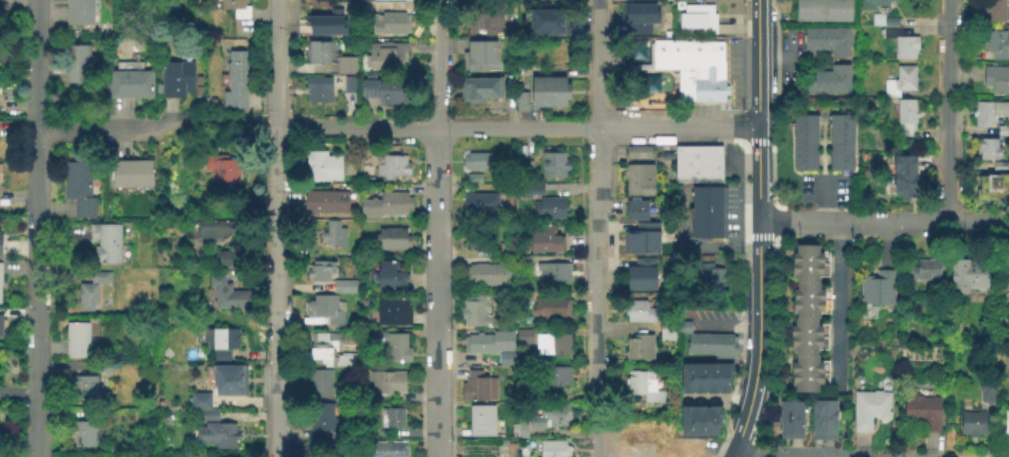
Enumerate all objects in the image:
building: (689, 0)
building: (365, 1)
building: (550, 1)
building: (875, 4)
building: (235, 9)
building: (809, 11)
building: (837, 11)
building: (994, 11)
building: (78, 13)
building: (638, 18)
building: (698, 20)
building: (883, 22)
building: (549, 23)
building: (390, 24)
building: (327, 25)
building: (484, 25)
building: (828, 42)
building: (902, 44)
building: (996, 44)
building: (636, 48)
building: (318, 54)
building: (386, 57)
building: (480, 58)
road: (777, 60)
road: (756, 63)
building: (76, 64)
road: (596, 64)
building: (345, 66)
building: (693, 67)
building: (996, 80)
building: (179, 81)
building: (828, 82)
building: (900, 82)
building: (236, 83)
building: (129, 85)
building: (348, 86)
building: (318, 91)
building: (479, 91)
building: (385, 94)
building: (549, 95)
building: (521, 104)
road: (950, 111)
building: (988, 113)
building: (906, 117)
road: (432, 123)
road: (515, 128)
road: (105, 129)
road: (223, 129)
building: (1002, 131)
building: (872, 137)
road: (521, 142)
building: (839, 143)
building: (804, 144)
building: (987, 149)
building: (637, 150)
building: (666, 154)
building: (696, 162)
building: (479, 163)
building: (363, 166)
building: (553, 166)
building: (999, 167)
building: (0, 168)
building: (322, 168)
building: (392, 168)
building: (220, 170)
building: (521, 171)
road: (597, 173)
building: (903, 175)
building: (131, 176)
building: (638, 177)
building: (472, 180)
building: (992, 186)
road: (571, 188)
building: (78, 190)
building: (526, 190)
building: (699, 195)
road: (823, 200)
building: (323, 203)
building: (715, 204)
building: (480, 205)
building: (385, 206)
building: (635, 207)
building: (548, 209)
building: (699, 214)
building: (523, 215)
road: (827, 221)
road: (954, 223)
road: (37, 228)
road: (275, 228)
building: (215, 230)
building: (699, 231)
building: (715, 231)
building: (129, 233)
building: (333, 236)
building: (641, 236)
building: (480, 238)
building: (0, 240)
building: (544, 240)
building: (392, 241)
building: (511, 244)
building: (106, 245)
road: (692, 246)
road: (597, 254)
building: (806, 257)
building: (227, 260)
building: (527, 265)
building: (0, 269)
building: (923, 271)
building: (320, 272)
building: (640, 272)
building: (553, 273)
building: (806, 274)
building: (484, 275)
building: (967, 277)
building: (709, 278)
building: (388, 279)
building: (343, 287)
building: (877, 290)
building: (91, 291)
building: (807, 293)
road: (757, 294)
building: (227, 295)
building: (523, 299)
road: (434, 304)
road: (838, 306)
building: (550, 308)
building: (639, 309)
building: (807, 310)
building: (866, 310)
building: (326, 311)
building: (475, 312)
building: (392, 313)
building: (94, 318)
road: (727, 320)
building: (0, 321)
building: (1, 326)
building: (805, 330)
building: (665, 334)
building: (524, 337)
building: (707, 339)
building: (77, 341)
building: (220, 343)
building: (479, 345)
building: (552, 345)
building: (805, 347)
building: (393, 349)
building: (638, 349)
building: (323, 350)
road: (598, 357)
building: (506, 360)
building: (104, 367)
building: (806, 367)
building: (685, 376)
building: (723, 376)
building: (554, 377)
building: (698, 377)
building: (710, 377)
building: (229, 381)
building: (387, 383)
building: (320, 385)
building: (806, 385)
building: (643, 387)
building: (83, 388)
building: (478, 388)
building: (985, 390)
building: (540, 395)
building: (342, 397)
road: (714, 400)
building: (199, 401)
building: (342, 405)
road: (435, 410)
building: (868, 411)
building: (921, 413)
building: (105, 415)
building: (209, 415)
building: (711, 417)
building: (320, 418)
building: (698, 418)
building: (390, 419)
building: (545, 419)
building: (686, 419)
building: (481, 421)
building: (791, 421)
building: (824, 421)
building: (969, 424)
building: (1006, 424)
building: (647, 427)
building: (322, 433)
building: (82, 435)
building: (216, 436)
road: (599, 441)
building: (385, 449)
building: (510, 449)
building: (553, 449)
road: (736, 454)
building: (324, 455)

